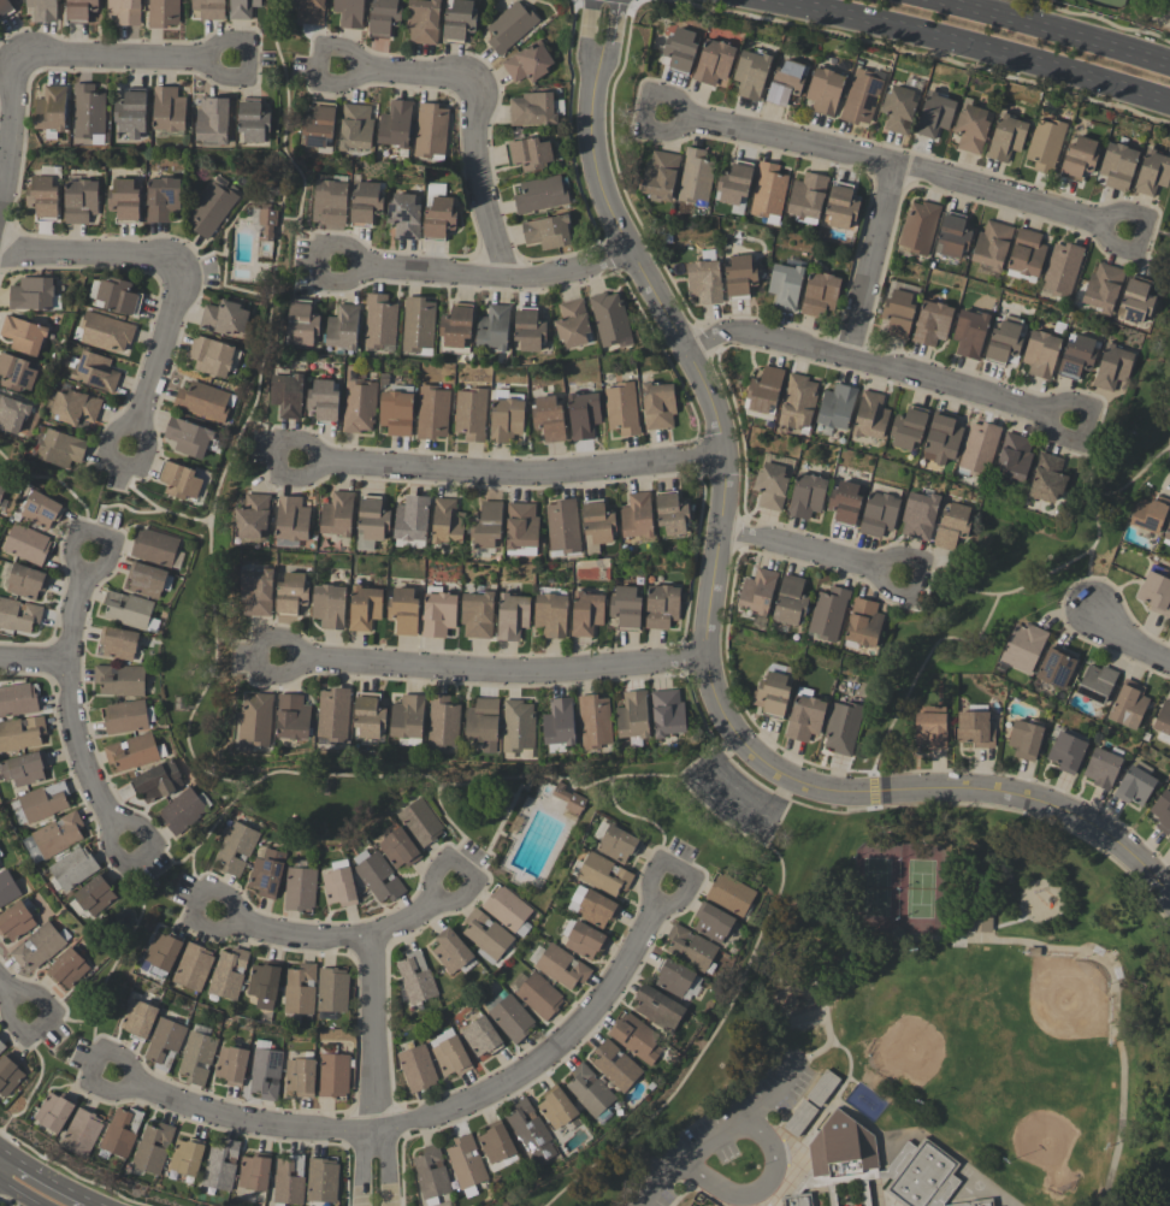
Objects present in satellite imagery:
park: (1107, 4)
building: (5, 7)
building: (209, 8)
building: (242, 8)
building: (42, 10)
building: (79, 10)
building: (124, 11)
building: (307, 11)
building: (348, 12)
building: (162, 13)
building: (383, 17)
building: (457, 18)
building: (422, 22)
building: (509, 26)
road: (1060, 29)
road: (975, 43)
building: (679, 49)
road: (125, 57)
building: (713, 61)
building: (527, 63)
road: (408, 72)
building: (750, 73)
building: (785, 82)
building: (823, 90)
building: (861, 97)
building: (51, 108)
building: (533, 108)
building: (898, 108)
building: (167, 110)
building: (88, 113)
building: (934, 114)
building: (212, 120)
building: (253, 122)
building: (395, 124)
building: (318, 125)
building: (355, 126)
building: (971, 128)
building: (430, 130)
road: (12, 135)
building: (1005, 137)
building: (1045, 143)
building: (530, 153)
building: (1079, 158)
road: (897, 162)
building: (1117, 165)
building: (1152, 172)
building: (660, 175)
building: (695, 176)
road: (480, 181)
building: (734, 183)
building: (768, 193)
building: (540, 194)
building: (42, 196)
building: (805, 197)
building: (124, 199)
building: (162, 200)
building: (79, 201)
building: (365, 202)
building: (330, 203)
building: (840, 206)
building: (212, 208)
building: (403, 215)
building: (265, 225)
building: (917, 226)
building: (546, 231)
road: (1146, 232)
building: (952, 236)
building: (992, 244)
building: (1027, 253)
road: (89, 255)
road: (223, 255)
road: (200, 258)
road: (874, 261)
park: (1165, 266)
building: (1062, 268)
building: (739, 276)
road: (489, 278)
building: (703, 282)
building: (784, 285)
building: (1103, 286)
building: (31, 294)
building: (819, 294)
building: (112, 296)
building: (1136, 300)
building: (897, 313)
building: (224, 318)
building: (609, 319)
building: (379, 321)
building: (301, 323)
building: (932, 323)
building: (572, 324)
building: (418, 325)
building: (456, 326)
building: (342, 327)
building: (492, 327)
building: (527, 330)
building: (104, 332)
building: (969, 332)
building: (23, 335)
building: (1005, 339)
building: (1040, 354)
building: (211, 356)
building: (1076, 356)
road: (159, 357)
road: (879, 367)
building: (1111, 367)
building: (95, 371)
building: (16, 373)
building: (764, 390)
building: (285, 395)
building: (323, 400)
building: (203, 401)
building: (357, 402)
building: (797, 402)
road: (256, 406)
building: (657, 406)
building: (75, 407)
building: (835, 407)
building: (621, 408)
building: (432, 412)
building: (12, 413)
building: (395, 413)
building: (469, 414)
building: (583, 414)
building: (870, 415)
building: (506, 418)
building: (548, 418)
building: (908, 427)
building: (188, 437)
road: (274, 438)
building: (941, 439)
road: (1169, 445)
building: (60, 448)
building: (979, 448)
building: (1014, 456)
road: (514, 473)
building: (1046, 478)
building: (181, 480)
road: (126, 485)
building: (770, 485)
building: (1, 486)
road: (61, 487)
building: (805, 495)
building: (844, 501)
building: (40, 510)
road: (131, 512)
building: (672, 513)
building: (337, 514)
building: (877, 514)
building: (1148, 514)
building: (918, 515)
building: (636, 516)
building: (253, 518)
building: (291, 519)
building: (412, 519)
building: (372, 520)
building: (447, 522)
building: (597, 525)
building: (951, 525)
building: (486, 526)
building: (562, 526)
building: (521, 528)
building: (1168, 532)
building: (25, 544)
building: (154, 546)
road: (815, 552)
park: (1023, 567)
building: (144, 579)
building: (26, 581)
road: (1089, 584)
road: (951, 585)
building: (760, 591)
building: (256, 592)
building: (1154, 593)
building: (291, 595)
road: (713, 596)
building: (792, 599)
road: (994, 602)
building: (330, 607)
building: (662, 607)
building: (365, 608)
building: (627, 608)
building: (128, 609)
building: (404, 610)
building: (438, 613)
building: (829, 613)
building: (478, 614)
building: (587, 614)
building: (18, 615)
building: (551, 615)
building: (513, 616)
building: (865, 622)
road: (1129, 642)
building: (119, 643)
park: (194, 644)
building: (1024, 646)
road: (247, 650)
road: (34, 662)
building: (1057, 667)
road: (494, 672)
building: (120, 680)
building: (1098, 682)
building: (773, 694)
building: (18, 700)
road: (71, 704)
building: (1129, 704)
building: (669, 713)
building: (370, 715)
building: (634, 715)
building: (805, 715)
building: (333, 716)
building: (126, 717)
building: (292, 717)
building: (408, 719)
building: (1163, 719)
building: (255, 721)
building: (443, 722)
building: (595, 722)
building: (484, 723)
building: (560, 725)
building: (519, 726)
building: (844, 727)
building: (932, 727)
building: (975, 729)
building: (20, 733)
building: (1024, 739)
building: (135, 752)
building: (1066, 752)
building: (1103, 768)
building: (24, 769)
road: (409, 778)
building: (158, 781)
building: (1135, 786)
building: (569, 799)
building: (42, 803)
building: (183, 811)
building: (1163, 812)
building: (420, 823)
road: (457, 832)
building: (59, 834)
road: (494, 835)
building: (619, 844)
building: (237, 849)
building: (400, 849)
building: (73, 868)
building: (267, 874)
building: (604, 875)
building: (378, 876)
building: (341, 885)
building: (7, 888)
building: (300, 889)
building: (96, 894)
building: (732, 894)
building: (596, 906)
building: (509, 910)
building: (17, 920)
building: (714, 922)
building: (979, 922)
road: (342, 936)
building: (486, 936)
building: (586, 941)
building: (40, 946)
building: (691, 948)
building: (451, 951)
building: (162, 953)
road: (114, 960)
building: (67, 966)
building: (194, 966)
building: (562, 966)
building: (229, 974)
building: (675, 977)
building: (416, 979)
building: (265, 983)
building: (300, 989)
building: (332, 991)
road: (16, 993)
building: (539, 997)
park: (935, 999)
building: (658, 1009)
building: (512, 1018)
building: (138, 1019)
road: (63, 1023)
park: (1022, 1027)
building: (481, 1036)
building: (636, 1037)
building: (165, 1044)
building: (2, 1046)
park: (932, 1048)
building: (453, 1057)
building: (197, 1058)
building: (232, 1065)
building: (616, 1066)
building: (418, 1069)
road: (376, 1070)
building: (266, 1072)
building: (10, 1074)
building: (333, 1075)
building: (301, 1077)
road: (40, 1078)
building: (822, 1088)
building: (590, 1090)
road: (776, 1093)
building: (557, 1107)
building: (55, 1111)
road: (437, 1113)
building: (800, 1118)
building: (531, 1131)
building: (82, 1133)
building: (122, 1133)
building: (497, 1143)
road: (23, 1147)
building: (153, 1148)
building: (841, 1148)
building: (188, 1157)
road: (693, 1158)
building: (503, 1161)
building: (221, 1165)
building: (467, 1165)
building: (255, 1172)
building: (432, 1175)
building: (921, 1176)
road: (43, 1181)
building: (289, 1181)
building: (323, 1181)
road: (17, 1193)
road: (755, 1193)
building: (797, 1200)
building: (976, 1204)
road: (87, 1205)
building: (869, 1205)

